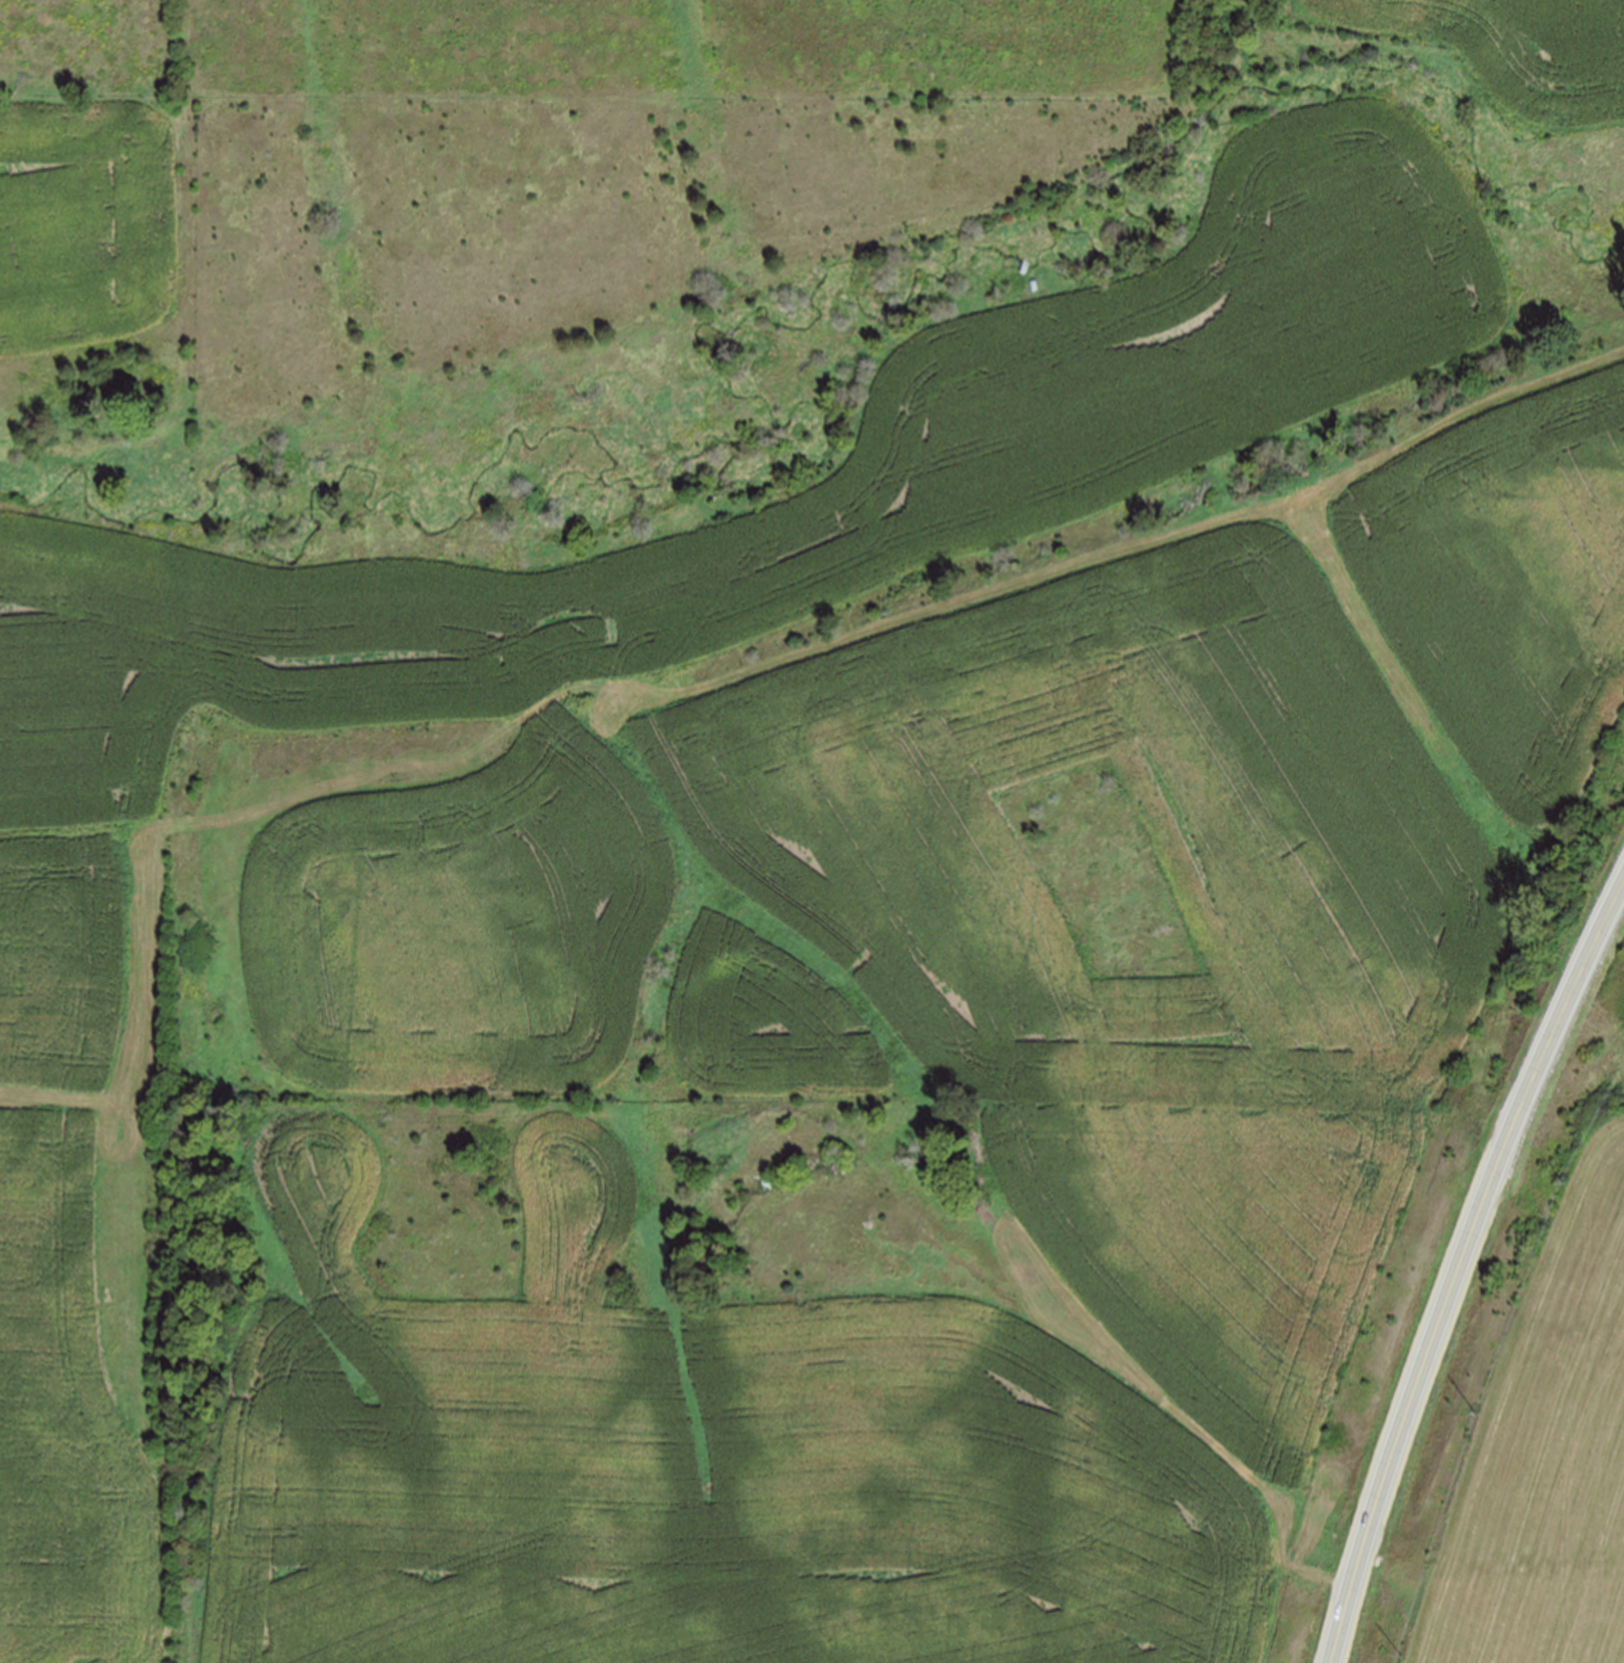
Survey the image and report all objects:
road: (1462, 1266)

